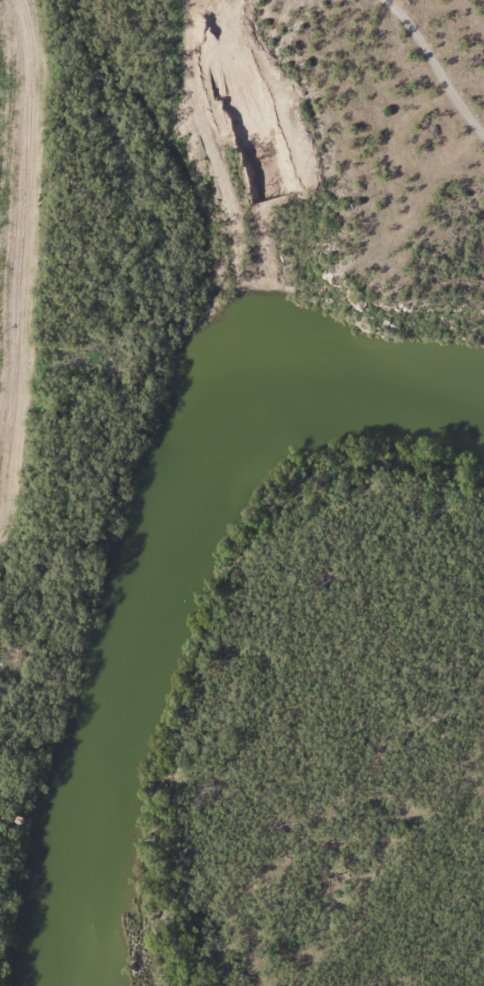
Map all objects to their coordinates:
road: (393, 119)
river: (158, 553)

